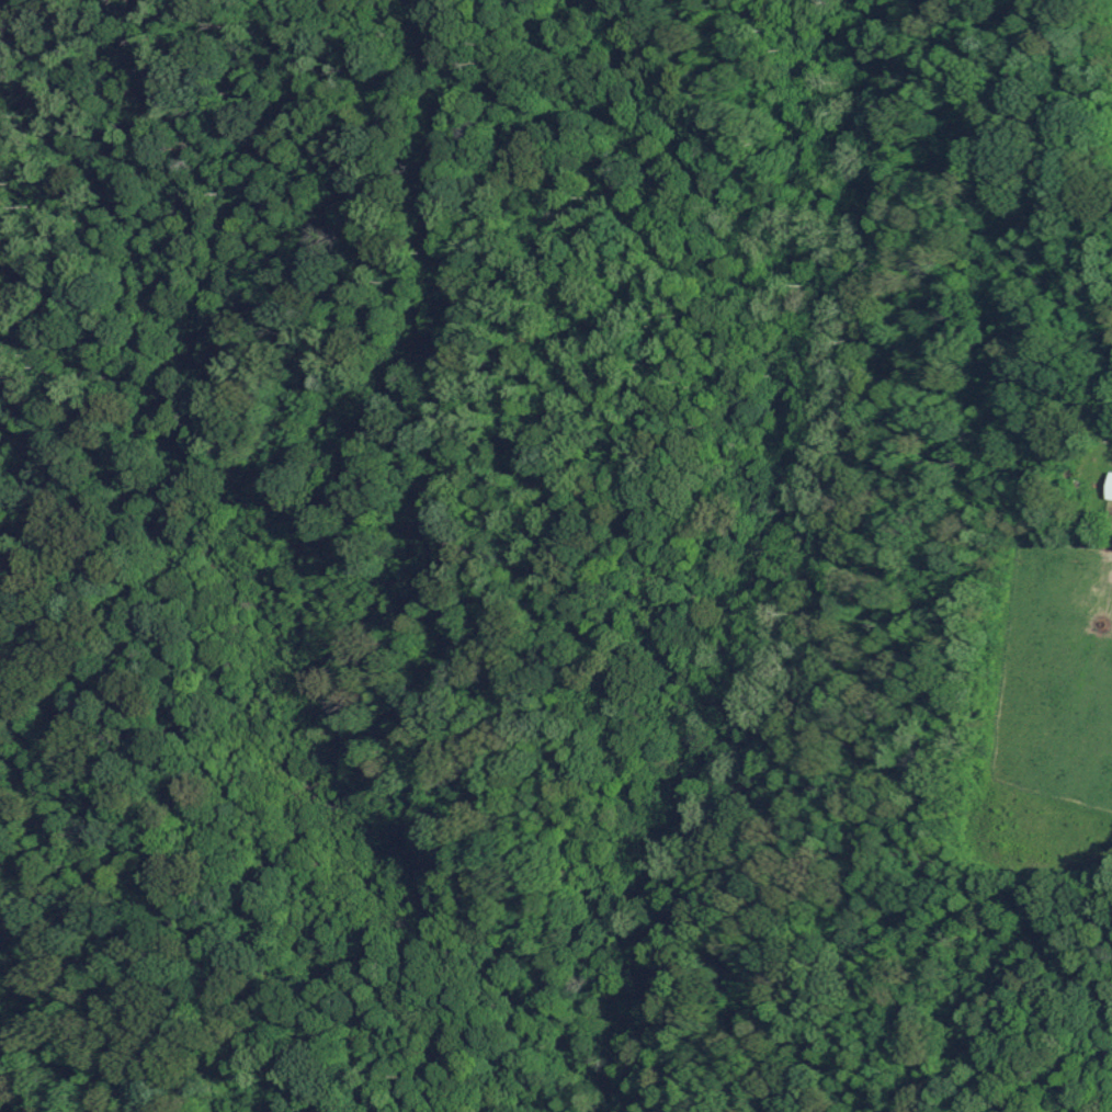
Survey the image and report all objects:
building: (1108, 486)

